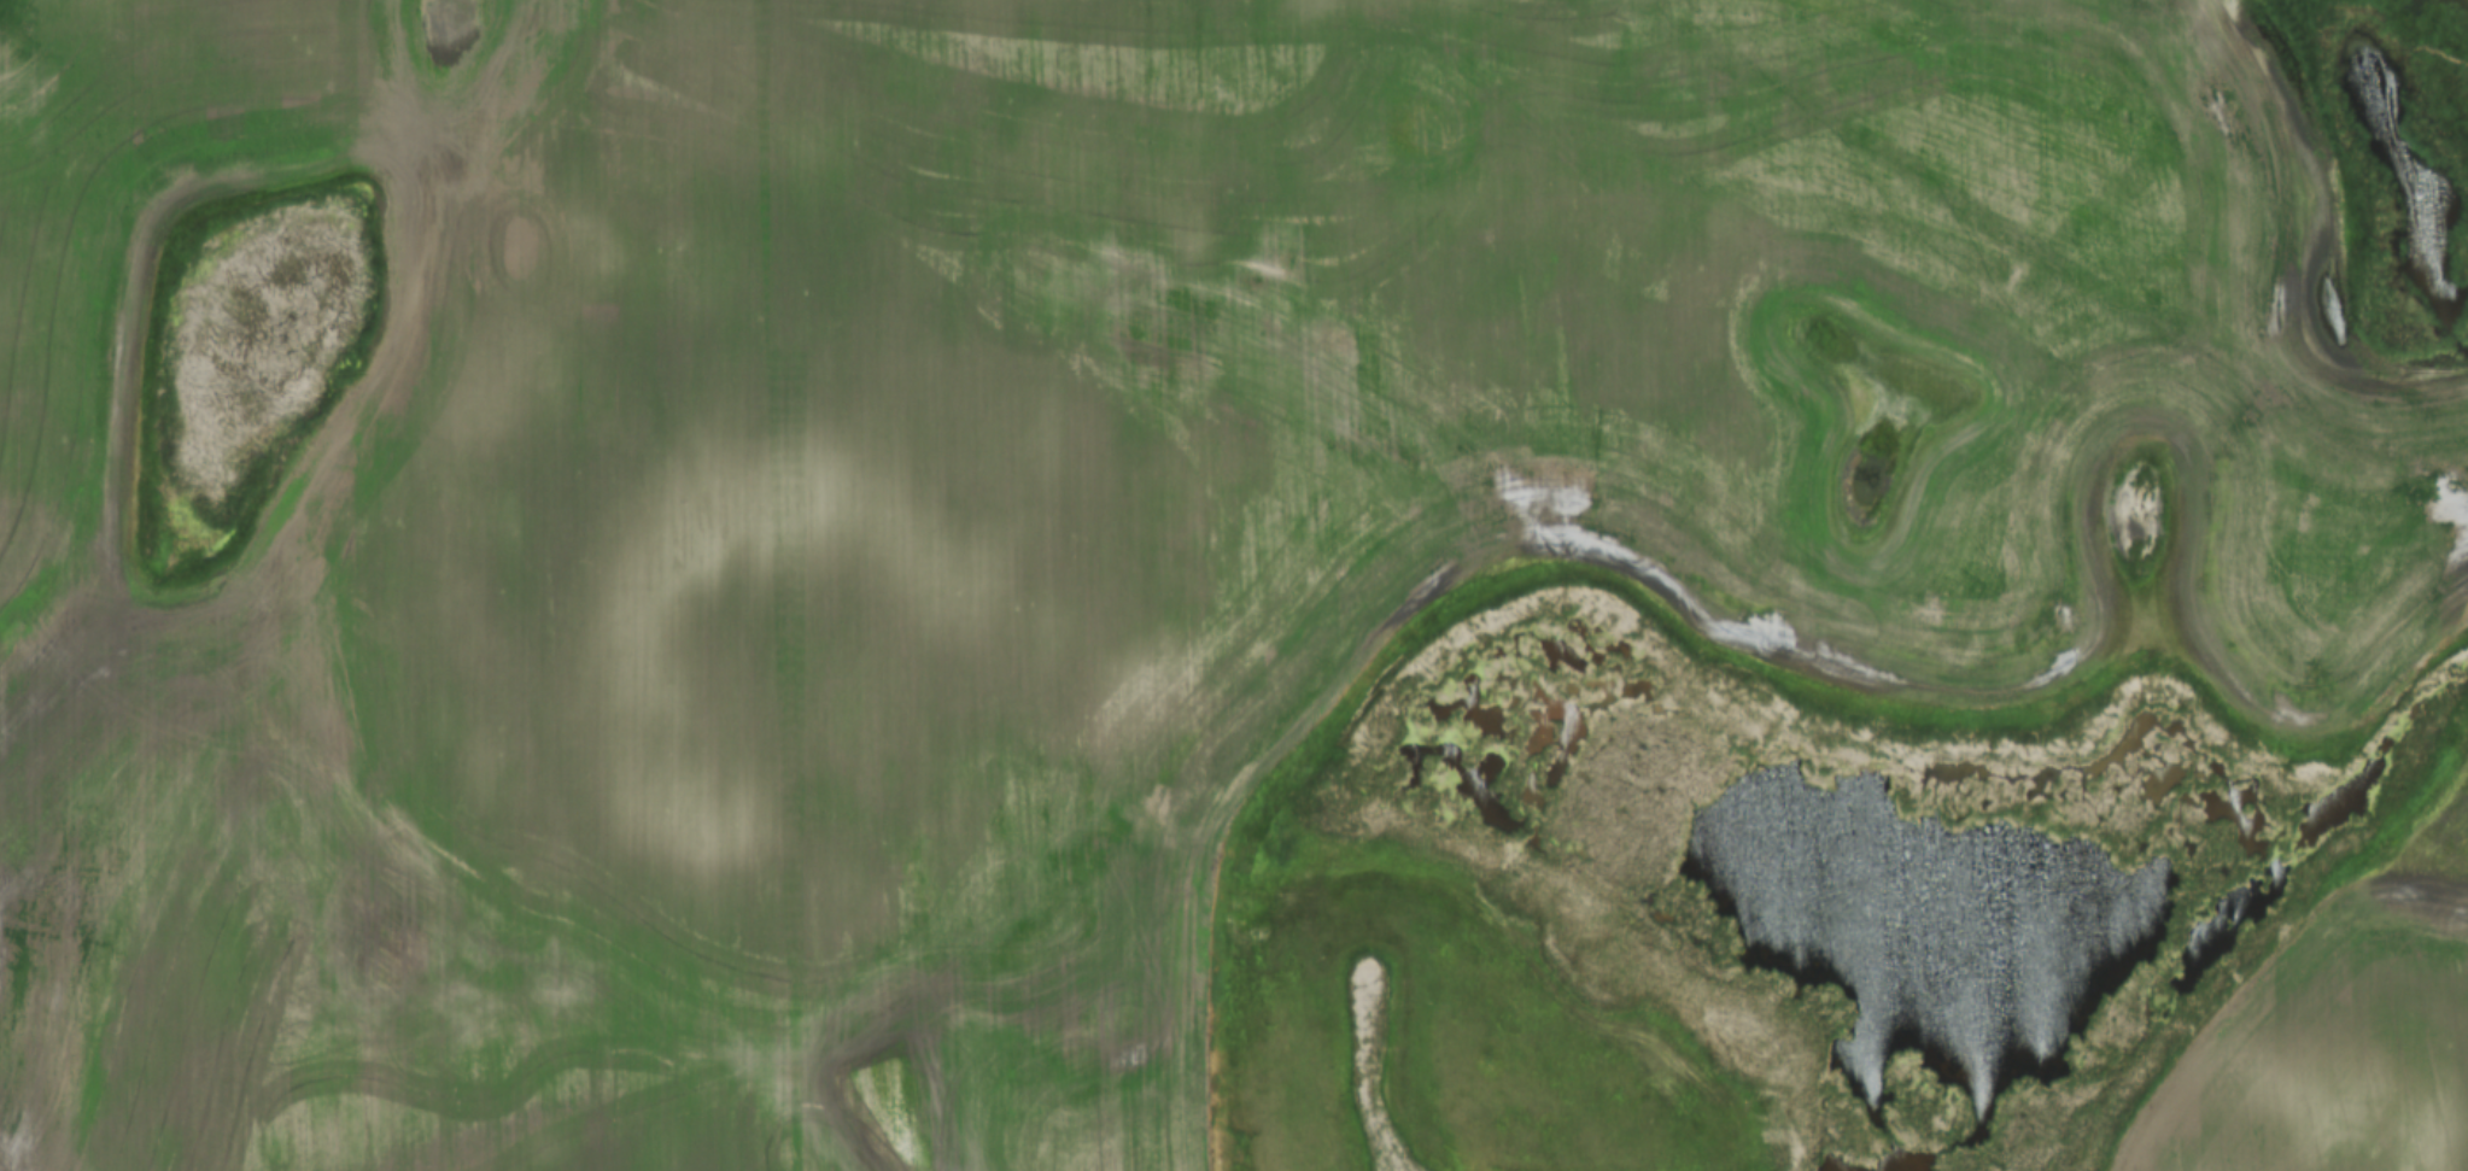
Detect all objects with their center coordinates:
road: (2376, 35)

